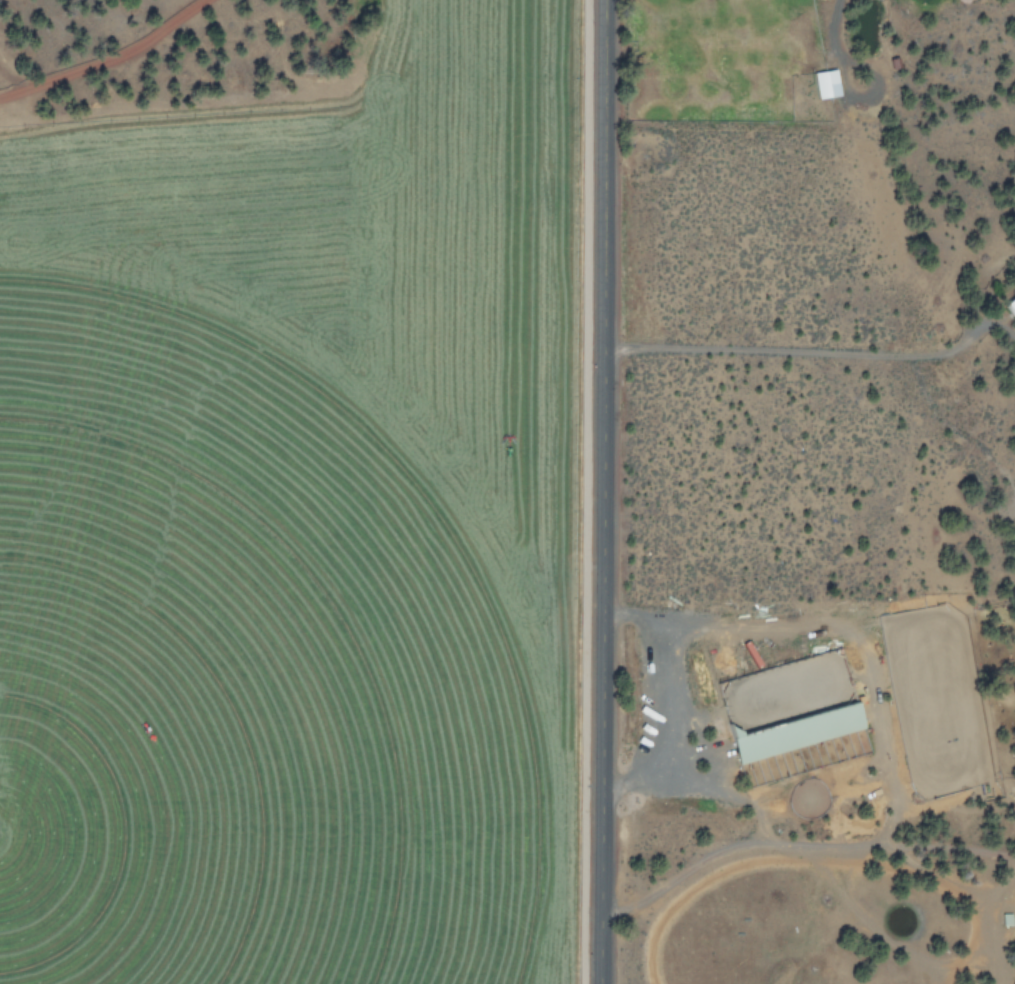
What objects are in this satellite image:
building: (824, 83)
building: (1010, 307)
road: (605, 492)
crop: (299, 520)
building: (795, 732)

